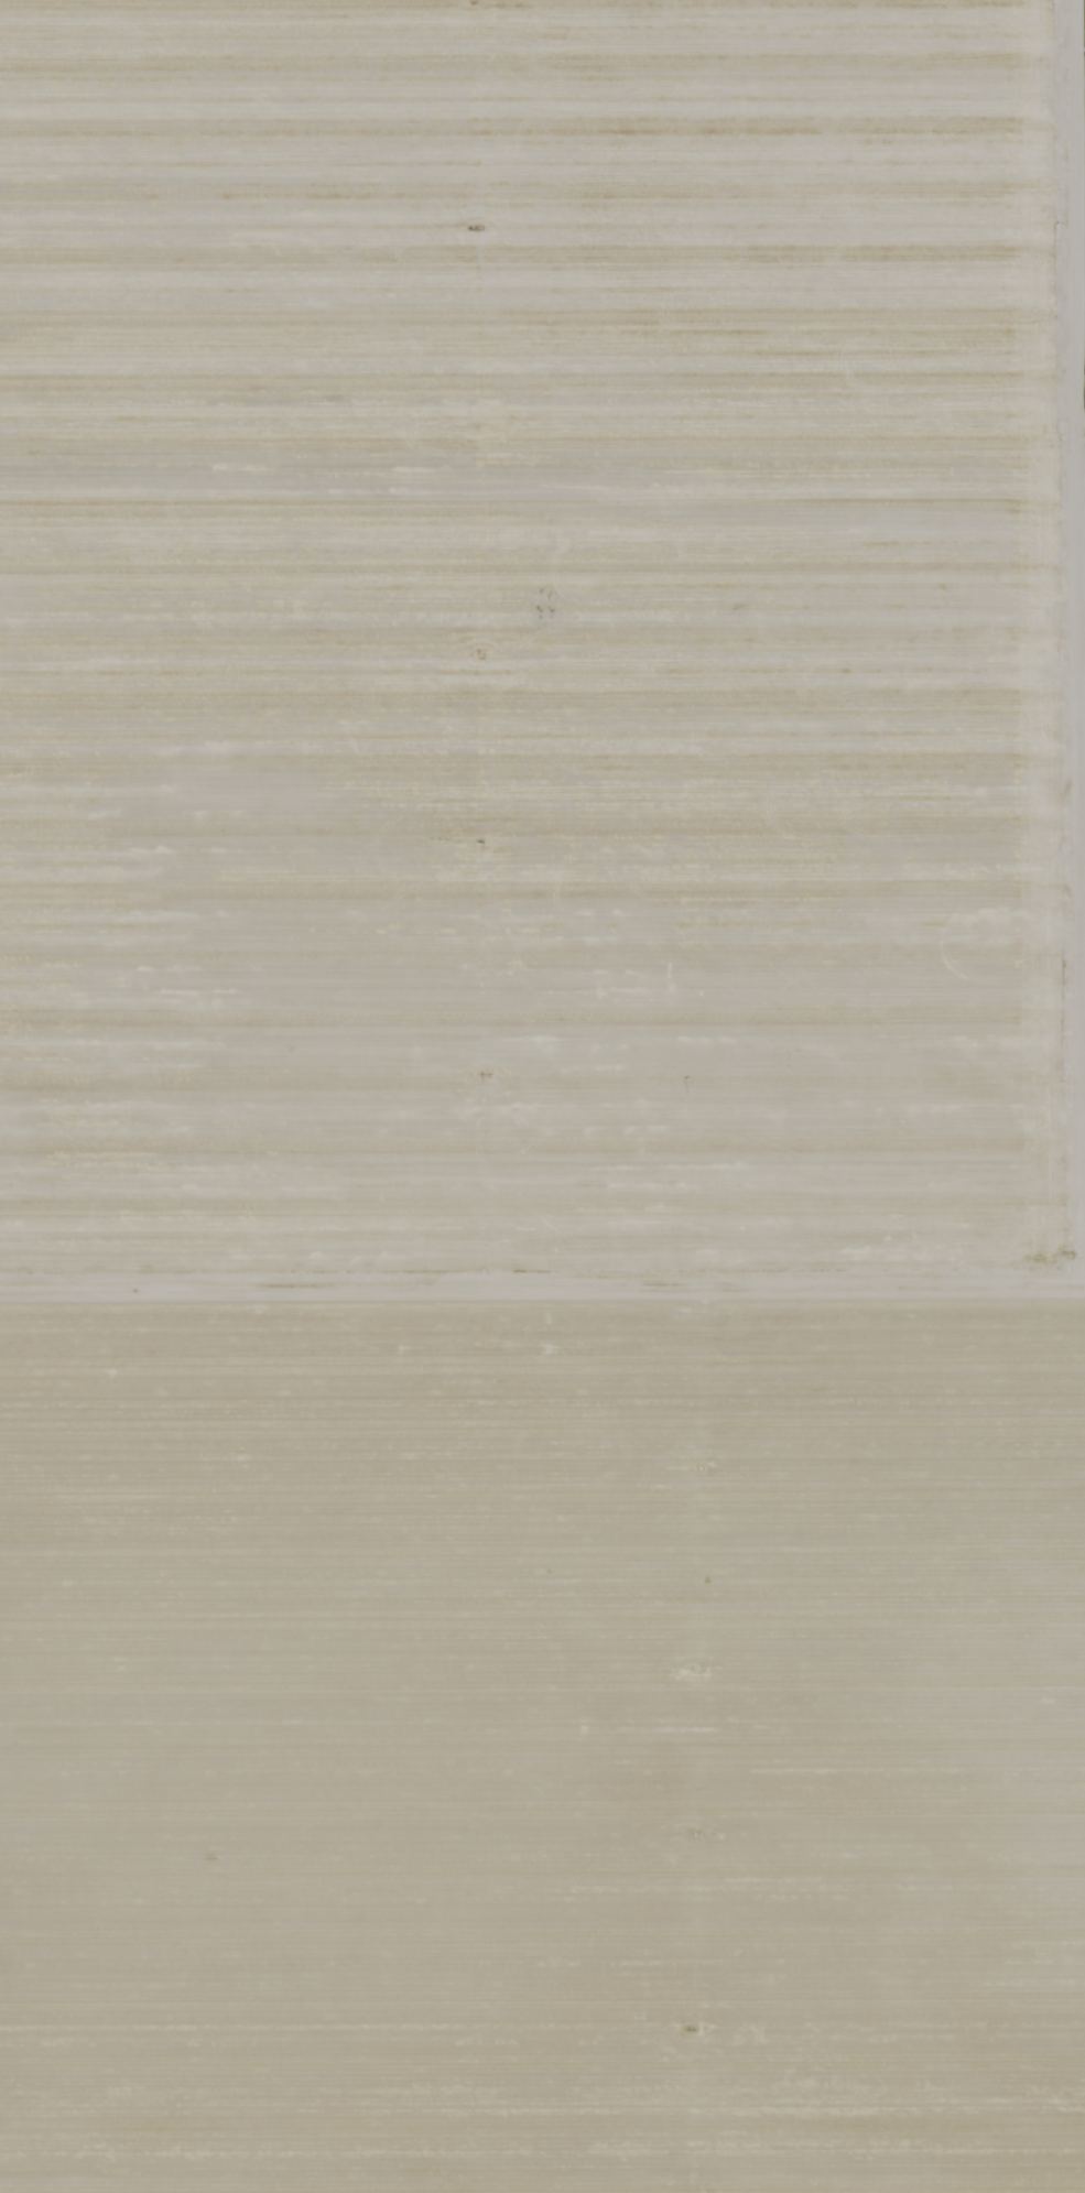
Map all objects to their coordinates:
crop: (542, 1096)
road: (542, 1279)

